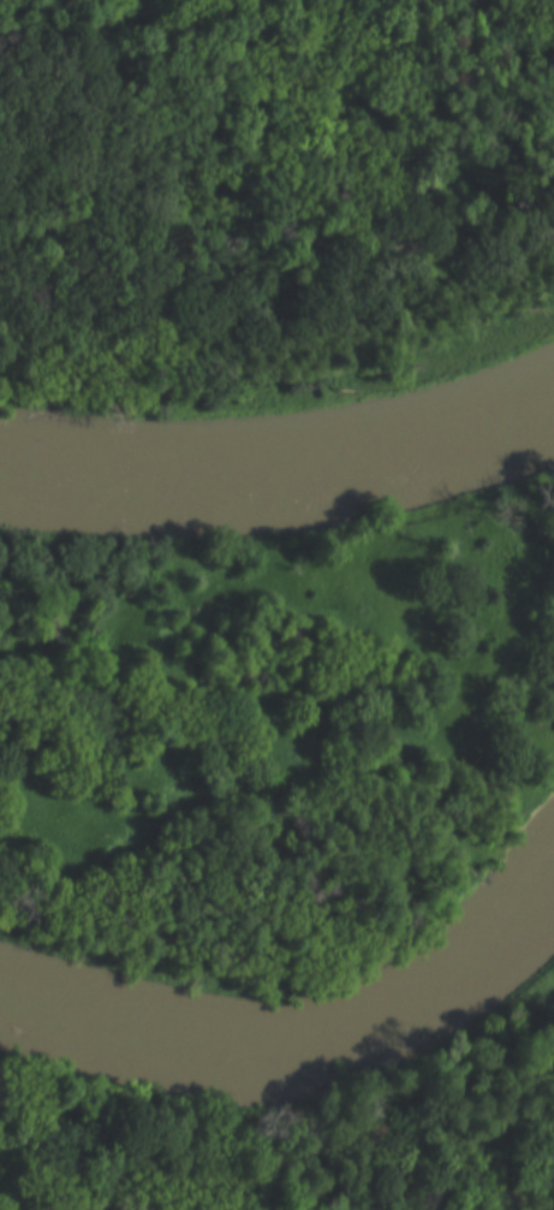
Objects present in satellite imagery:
river: (286, 470)
river: (299, 1037)

